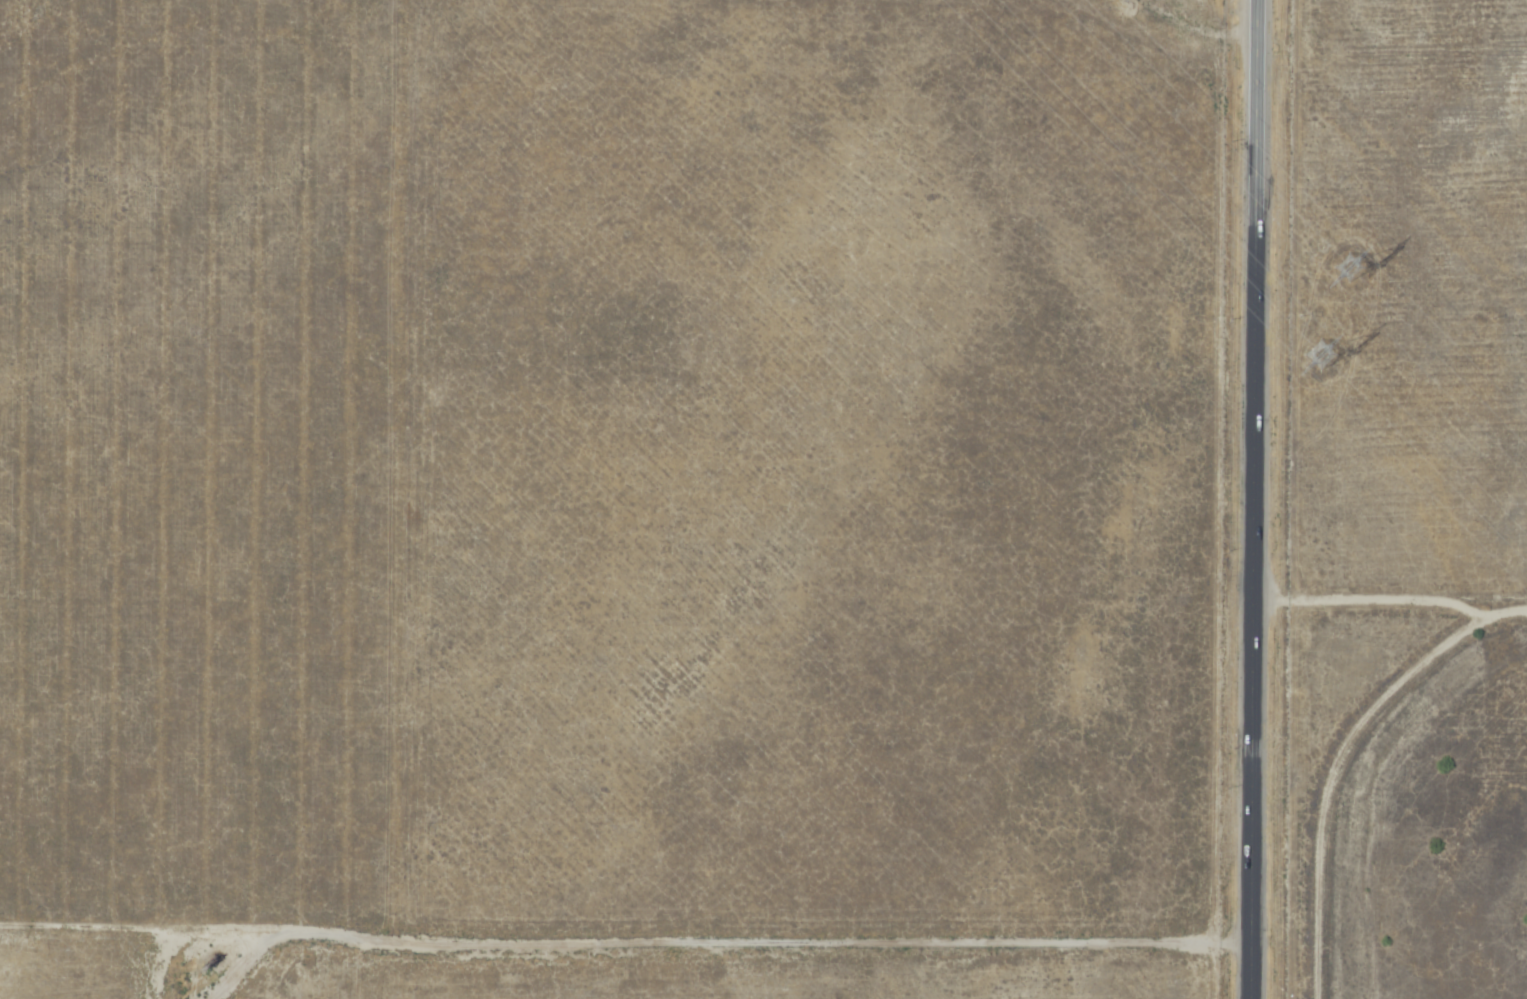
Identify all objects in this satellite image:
road: (1165, 64)
power tower: (1349, 265)
power tower: (1323, 351)
road: (1251, 499)
road: (613, 832)
road: (240, 967)

